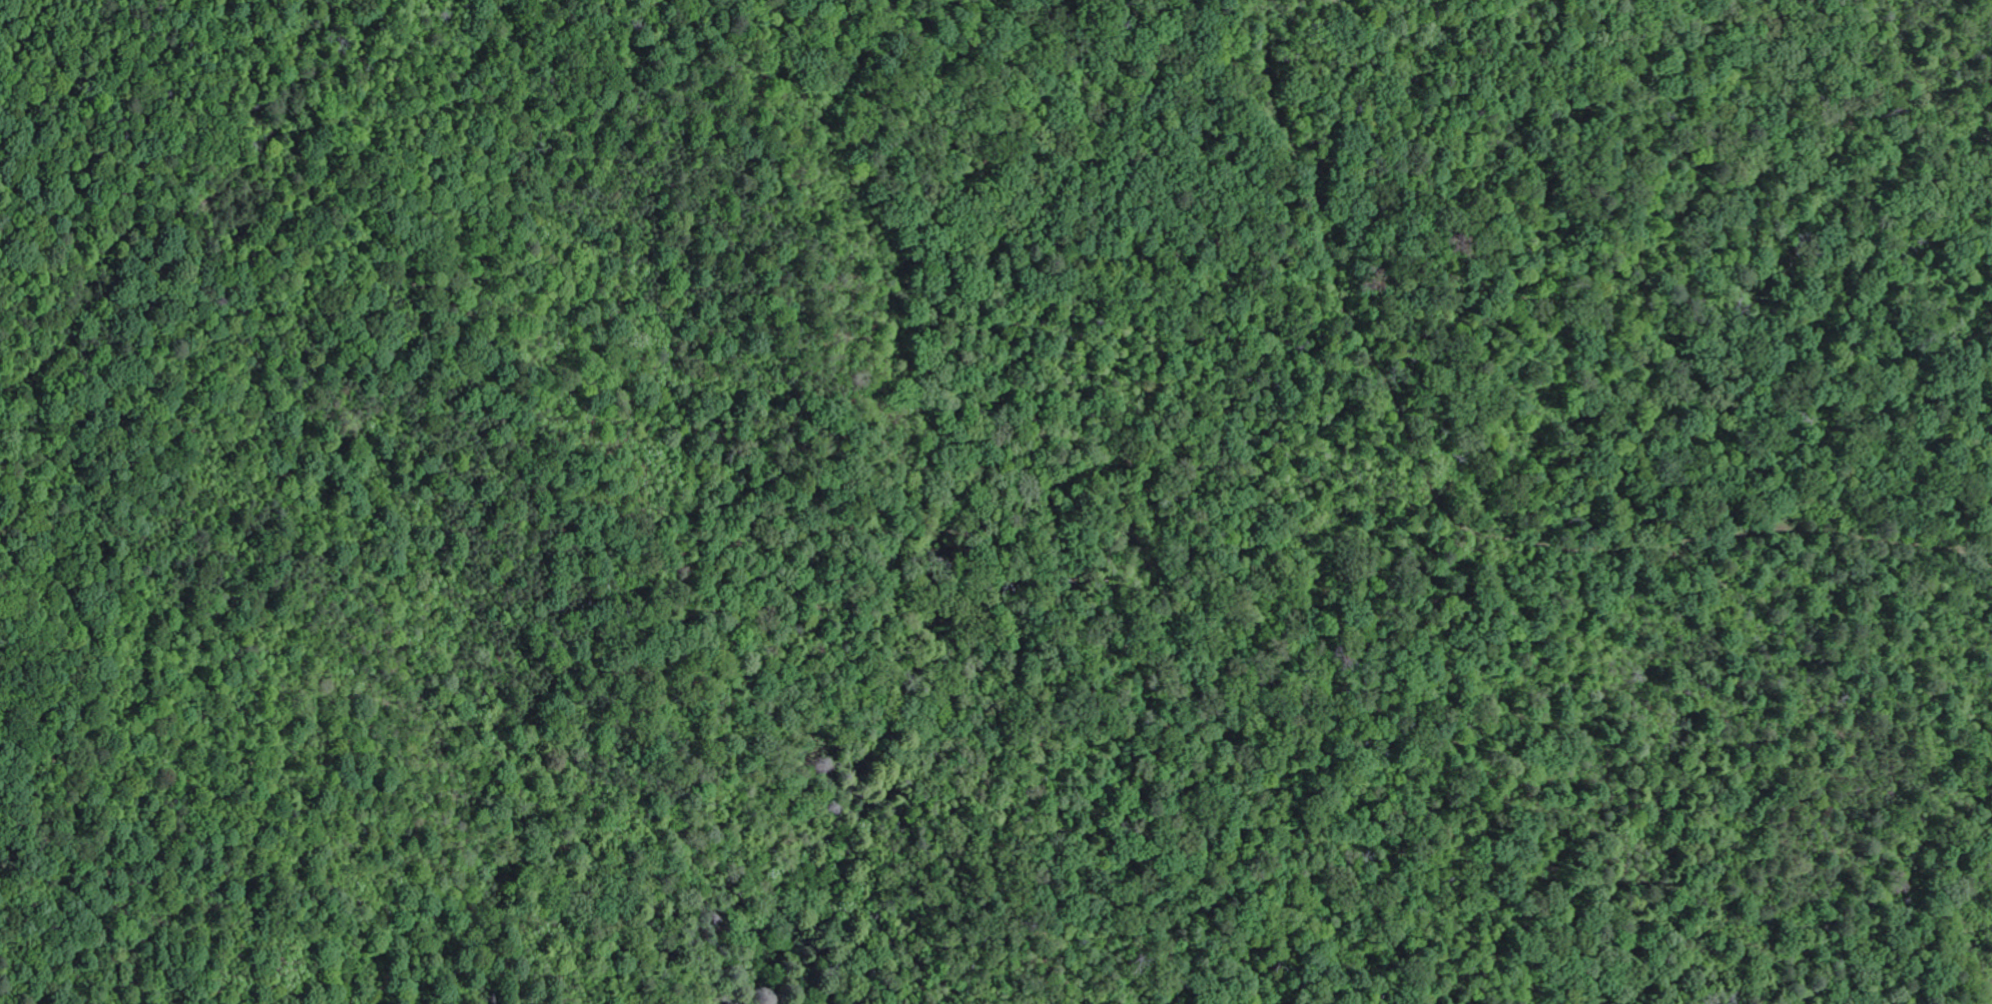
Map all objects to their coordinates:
road: (180, 211)
road: (1449, 511)

